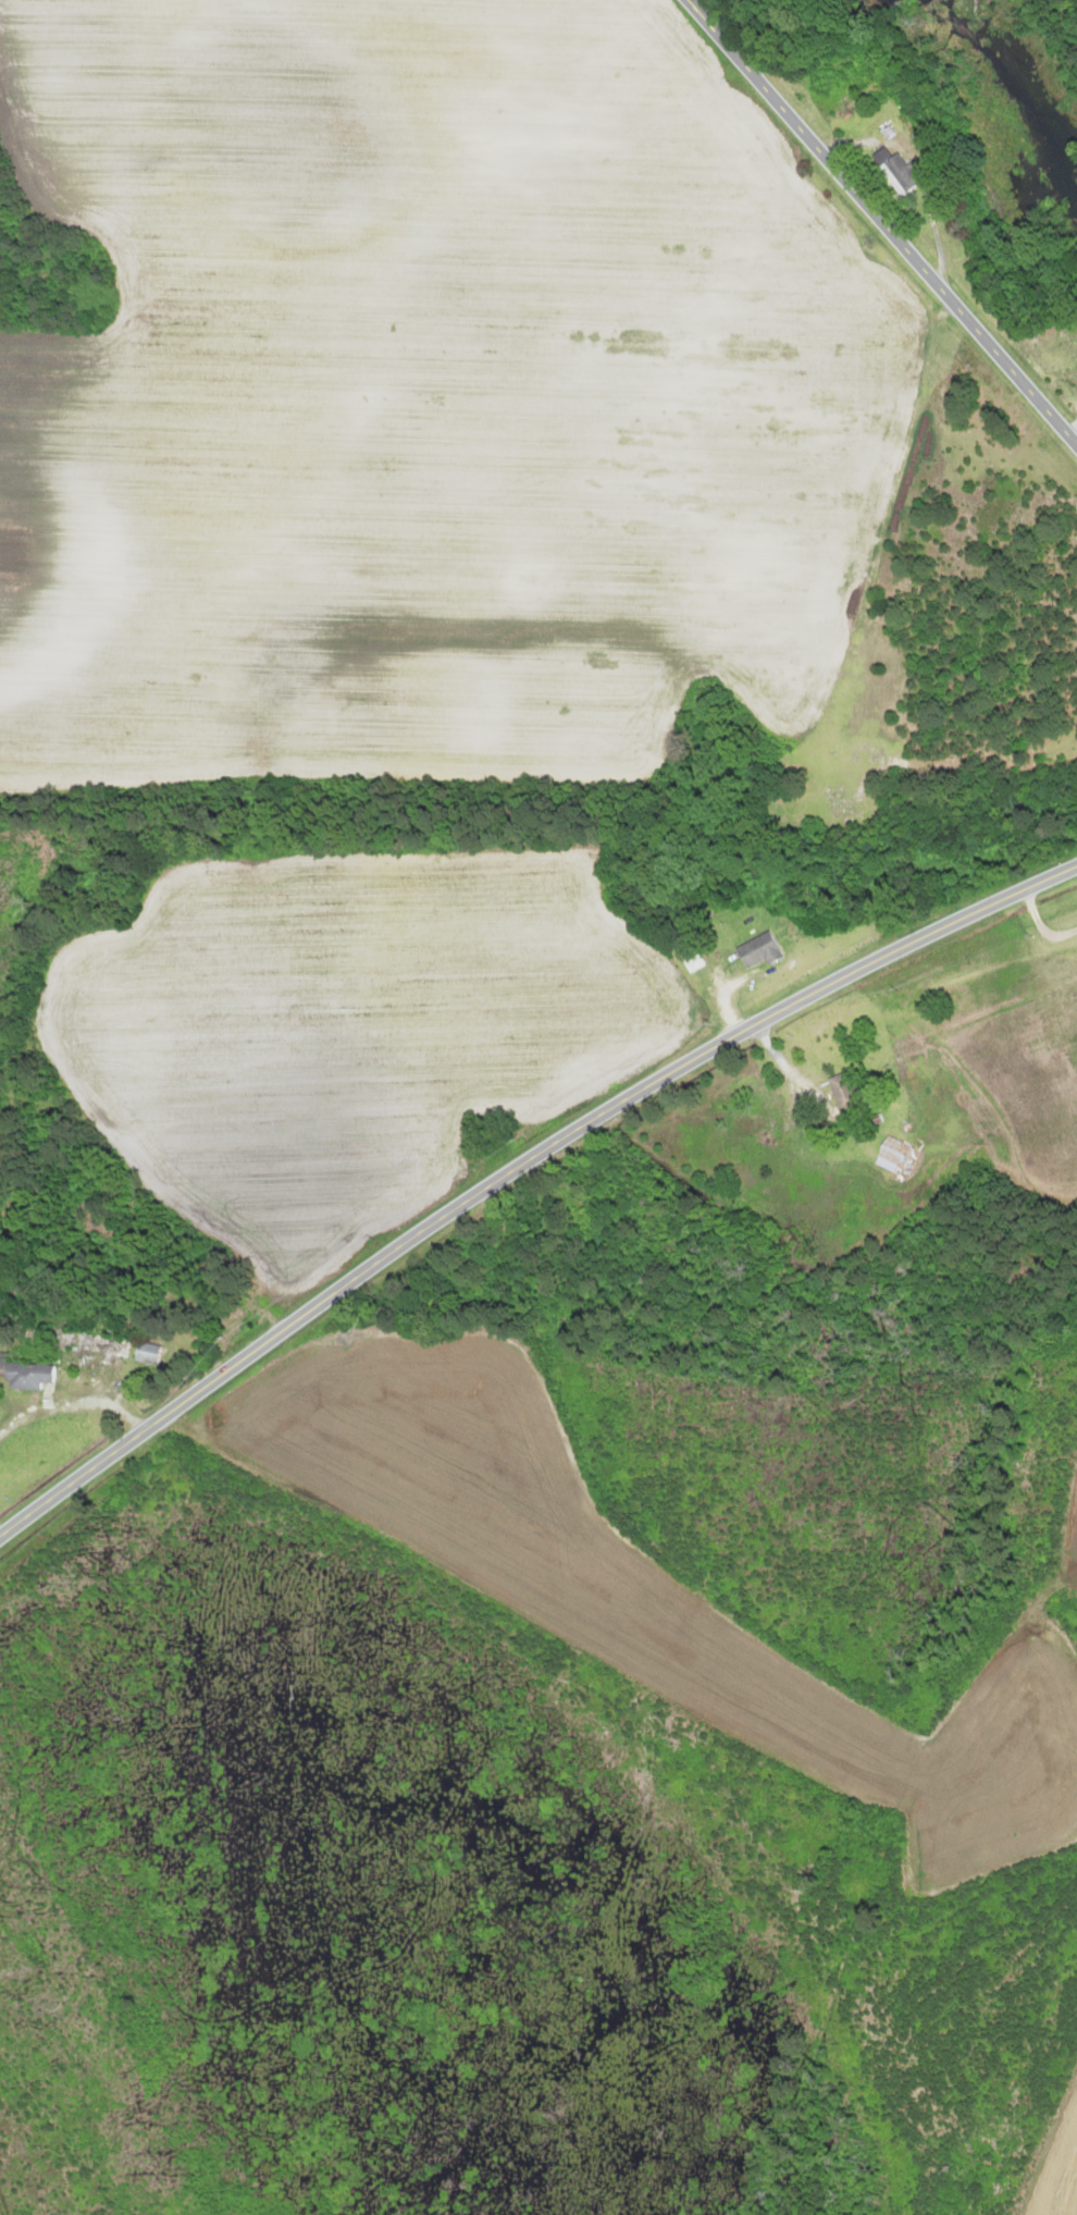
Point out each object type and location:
road: (919, 173)
building: (899, 175)
road: (881, 220)
building: (1076, 374)
building: (758, 951)
building: (842, 1092)
building: (753, 1122)
building: (893, 1155)
road: (522, 1173)
building: (90, 1344)
building: (146, 1354)
building: (25, 1377)

